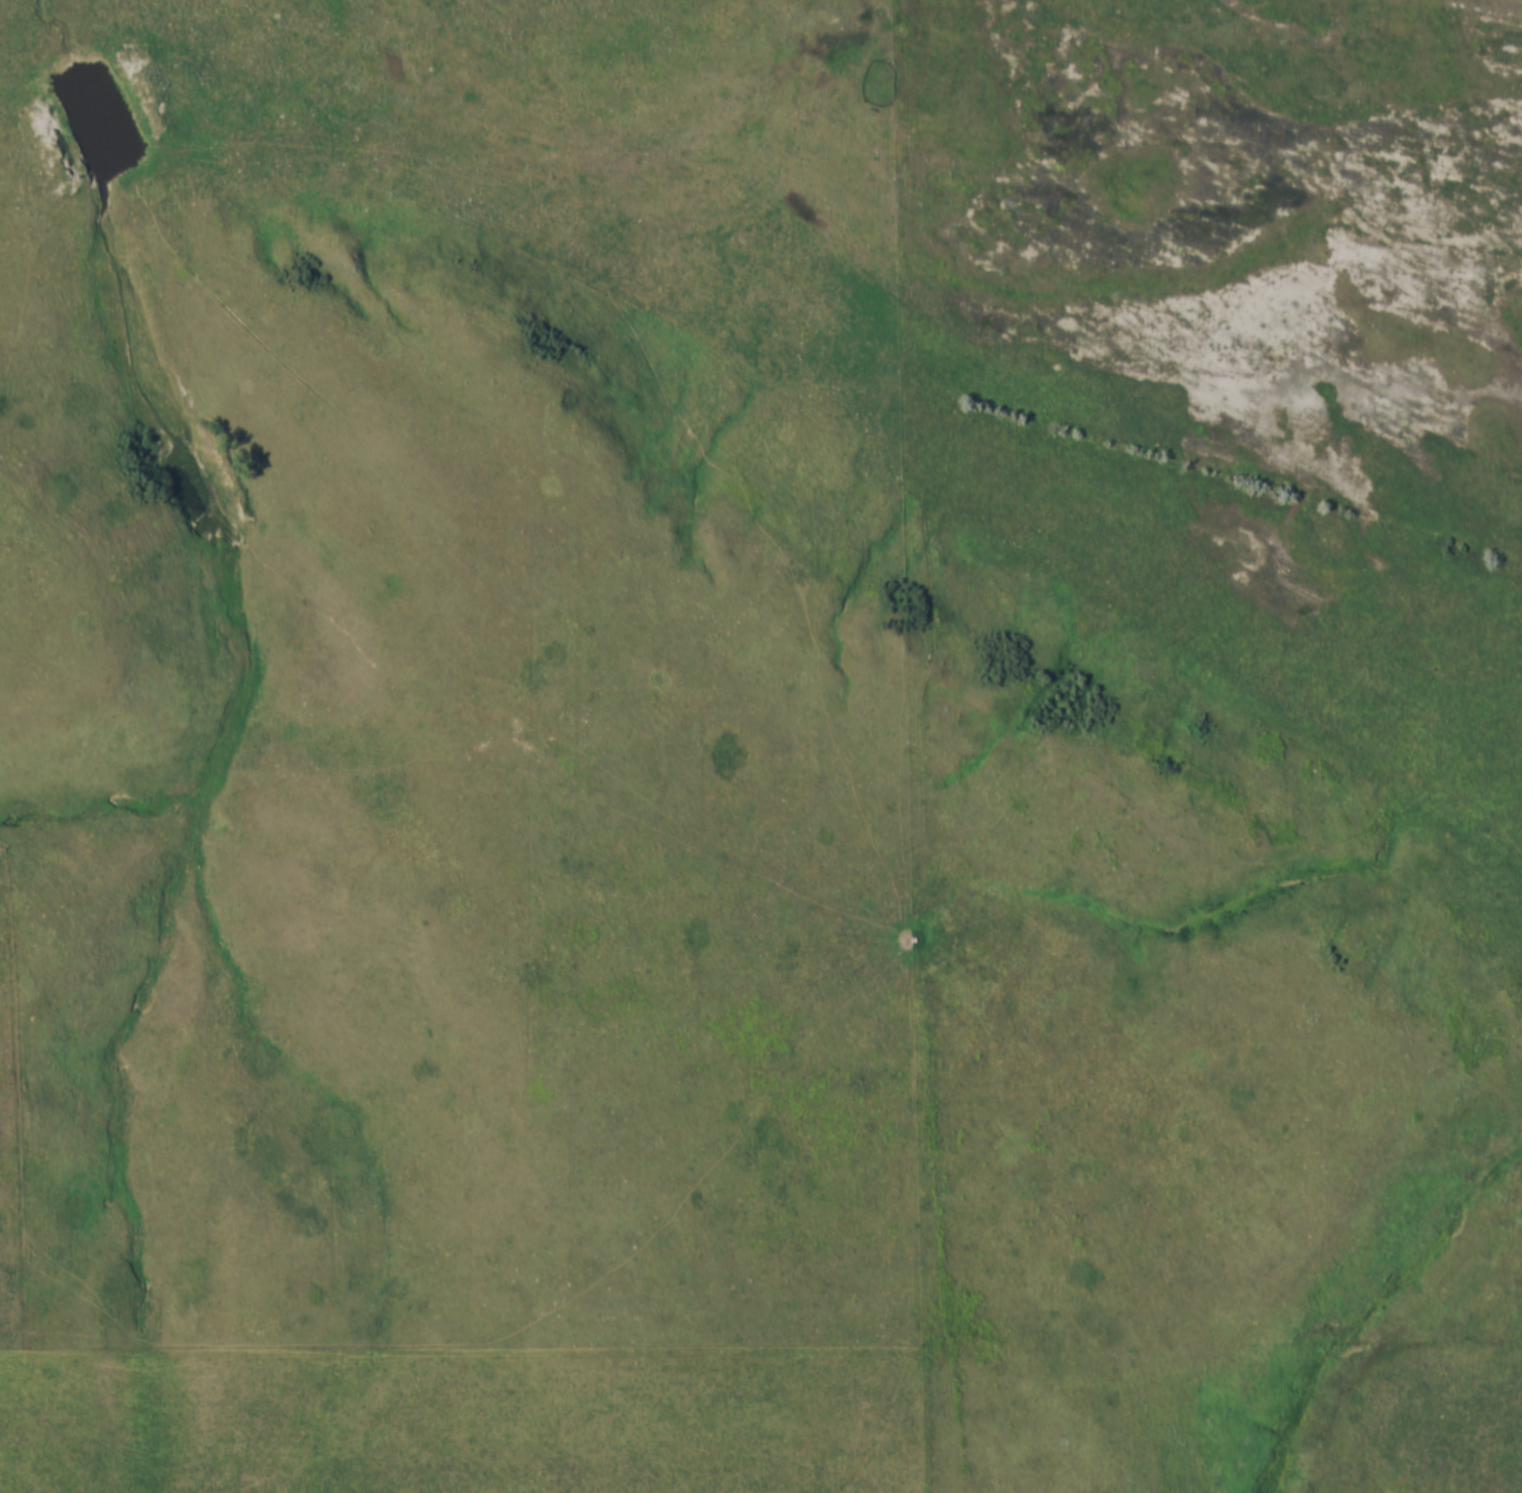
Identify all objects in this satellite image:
road: (435, 514)

